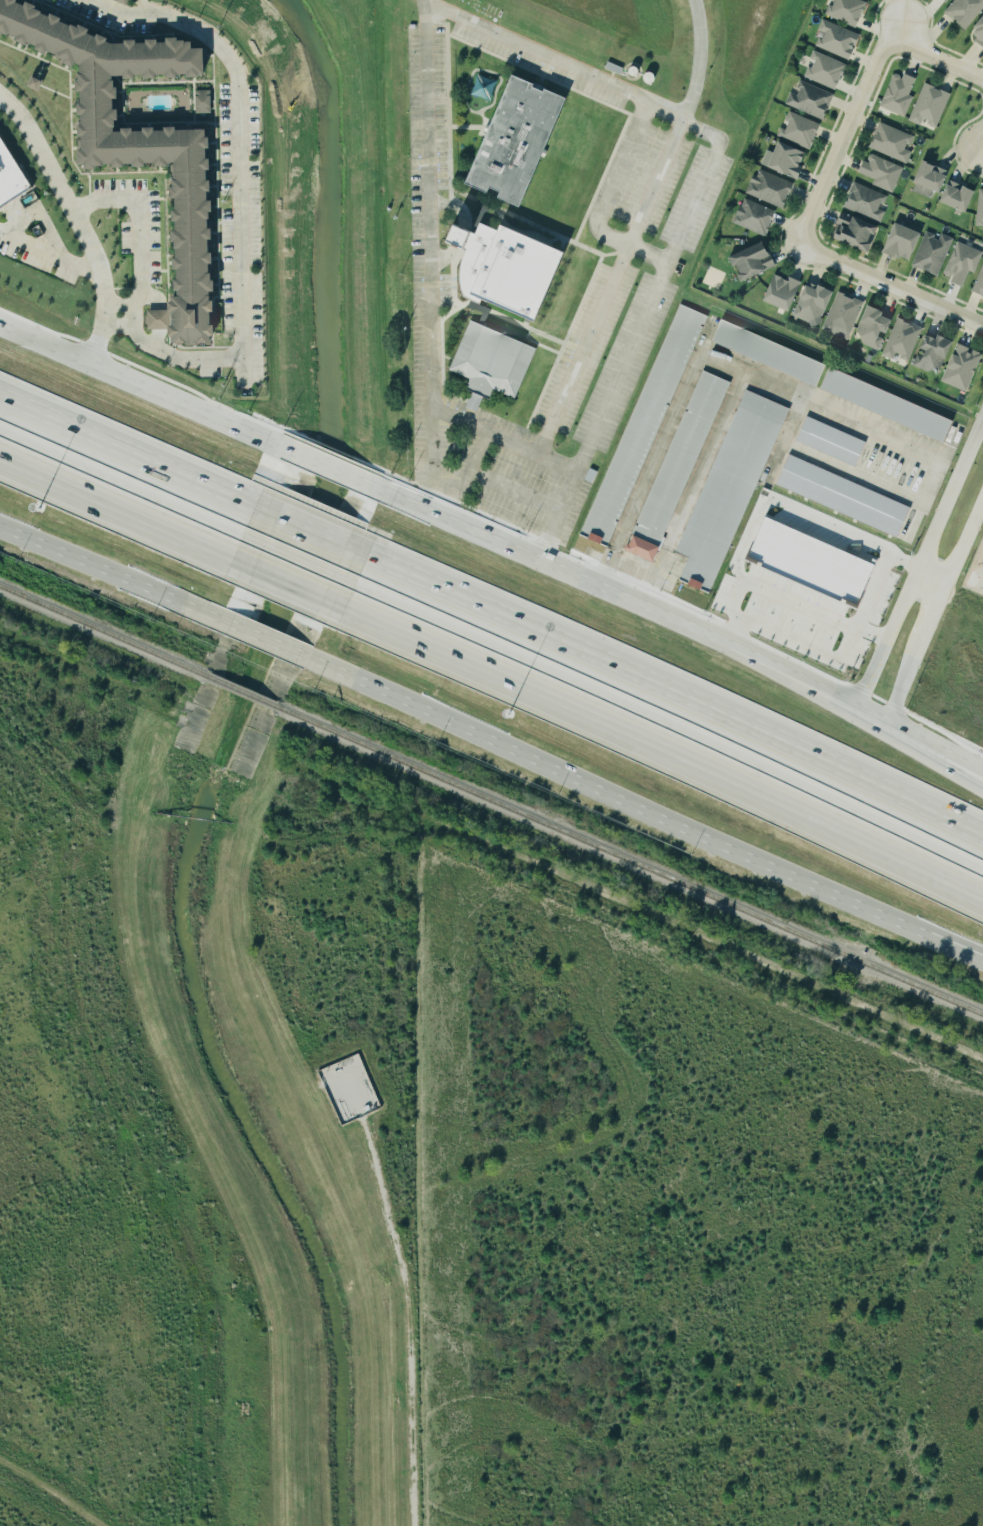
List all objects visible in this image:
building: (947, 0)
building: (125, 1)
building: (849, 11)
building: (965, 11)
road: (901, 33)
building: (980, 33)
building: (838, 39)
road: (528, 48)
road: (942, 60)
building: (827, 70)
building: (901, 95)
building: (812, 100)
building: (206, 102)
building: (928, 105)
road: (655, 107)
building: (801, 131)
road: (842, 139)
building: (516, 141)
building: (144, 142)
building: (894, 143)
road: (239, 144)
road: (982, 148)
building: (790, 161)
building: (883, 173)
building: (9, 176)
road: (613, 180)
building: (945, 187)
building: (773, 189)
building: (868, 202)
building: (981, 211)
building: (757, 217)
road: (40, 220)
road: (78, 224)
building: (858, 233)
building: (900, 242)
road: (429, 253)
building: (934, 253)
road: (140, 254)
road: (47, 255)
building: (755, 261)
building: (964, 263)
building: (504, 268)
road: (609, 285)
building: (979, 285)
road: (889, 286)
building: (785, 293)
road: (648, 304)
building: (815, 305)
road: (118, 313)
building: (845, 316)
building: (161, 320)
building: (876, 328)
building: (904, 341)
building: (935, 353)
building: (767, 354)
road: (200, 359)
building: (489, 363)
road: (731, 367)
building: (964, 368)
road: (140, 389)
building: (885, 406)
building: (642, 427)
building: (829, 442)
road: (127, 451)
building: (679, 457)
road: (336, 474)
building: (729, 488)
road: (509, 490)
building: (841, 496)
road: (119, 500)
road: (556, 516)
road: (310, 533)
road: (963, 543)
building: (642, 549)
road: (923, 561)
building: (809, 562)
road: (885, 564)
road: (557, 572)
road: (110, 573)
road: (292, 576)
road: (781, 595)
road: (930, 621)
railway: (101, 631)
road: (261, 639)
road: (802, 647)
road: (902, 686)
railway: (240, 692)
road: (674, 696)
road: (856, 703)
road: (854, 719)
road: (664, 746)
road: (643, 805)
railway: (630, 862)
road: (50, 1497)
railway: (177, 1503)

